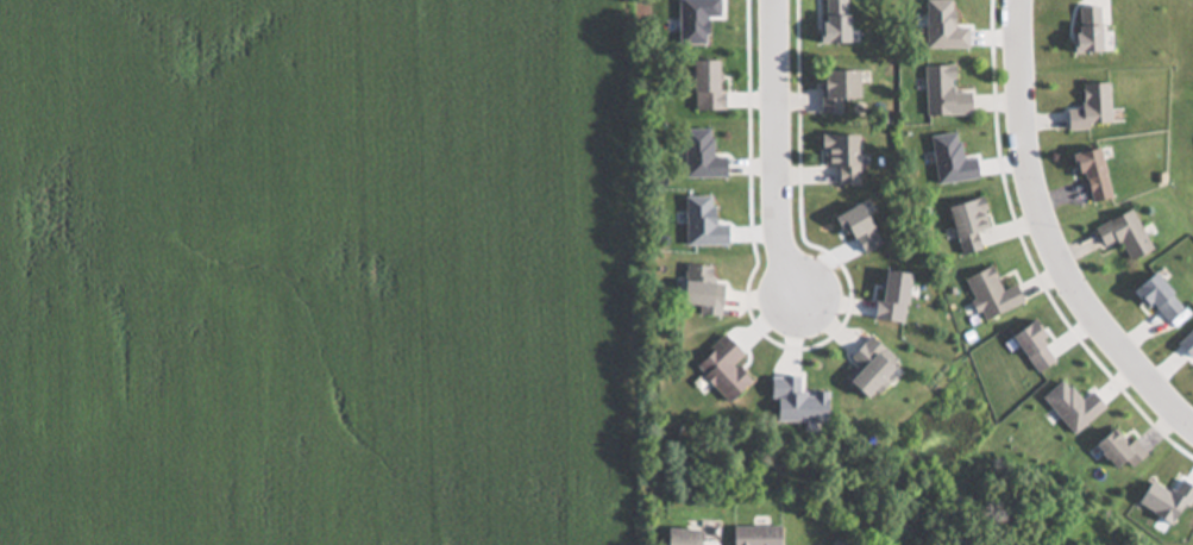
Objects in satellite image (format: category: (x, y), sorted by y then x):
building: (834, 89)
building: (942, 93)
building: (1097, 104)
road: (789, 155)
building: (840, 157)
building: (1090, 173)
building: (965, 224)
road: (1051, 233)
building: (1122, 234)
building: (698, 290)
building: (988, 294)
building: (867, 367)
building: (1116, 451)
building: (754, 535)
building: (678, 537)

